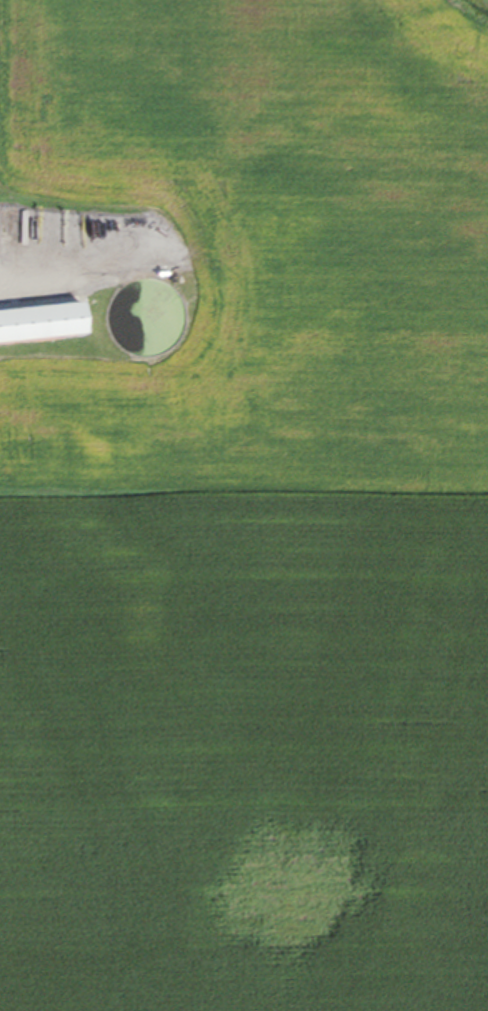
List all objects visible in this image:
building: (39, 326)

